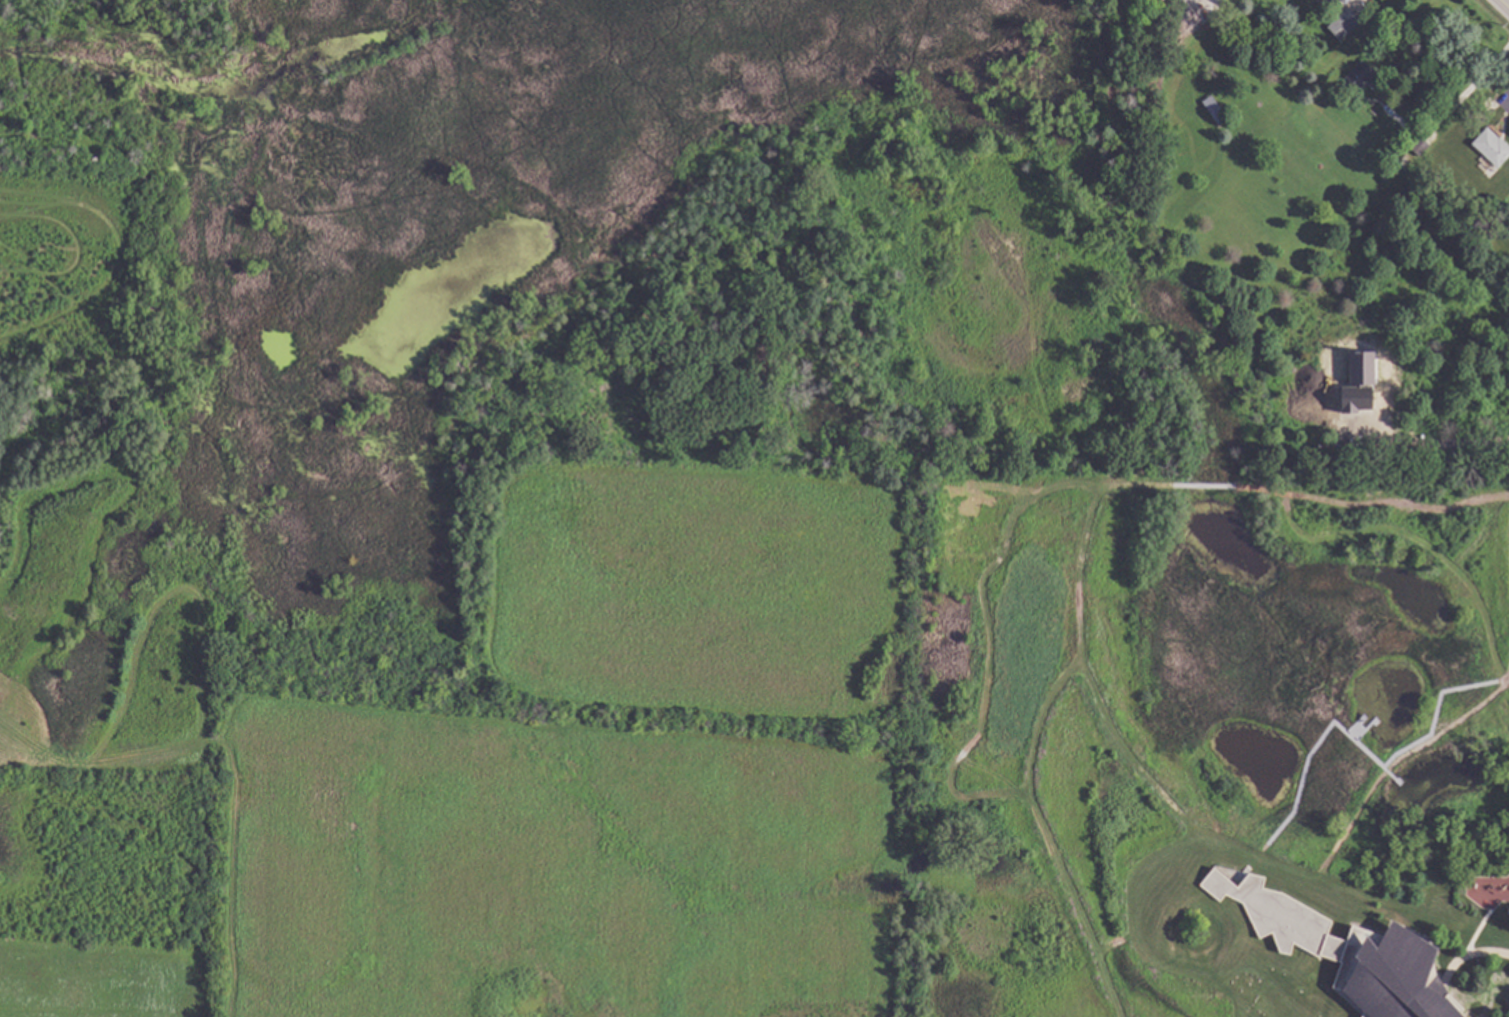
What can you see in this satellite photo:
building: (1339, 0)
building: (1345, 0)
road: (1503, 5)
building: (1350, 20)
building: (1361, 75)
road: (1452, 105)
building: (1216, 109)
building: (1487, 110)
building: (1420, 145)
building: (1492, 146)
building: (1359, 369)
building: (1353, 400)
road: (1435, 440)
crop: (574, 772)
building: (1347, 950)

